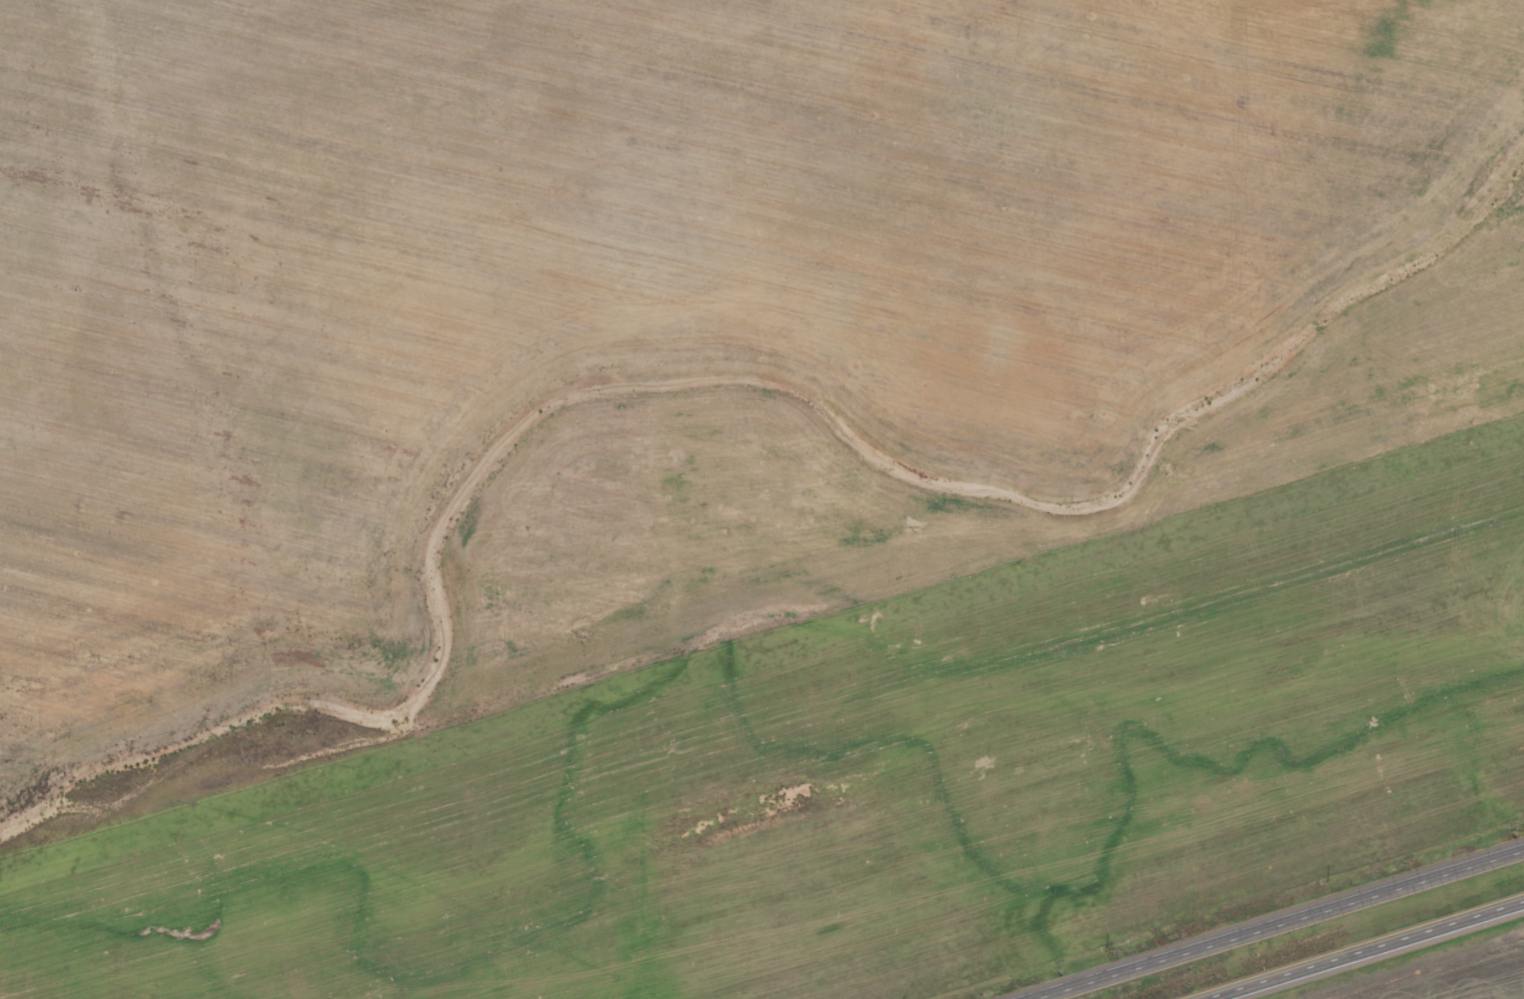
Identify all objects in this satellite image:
road: (1281, 925)
road: (1373, 952)

